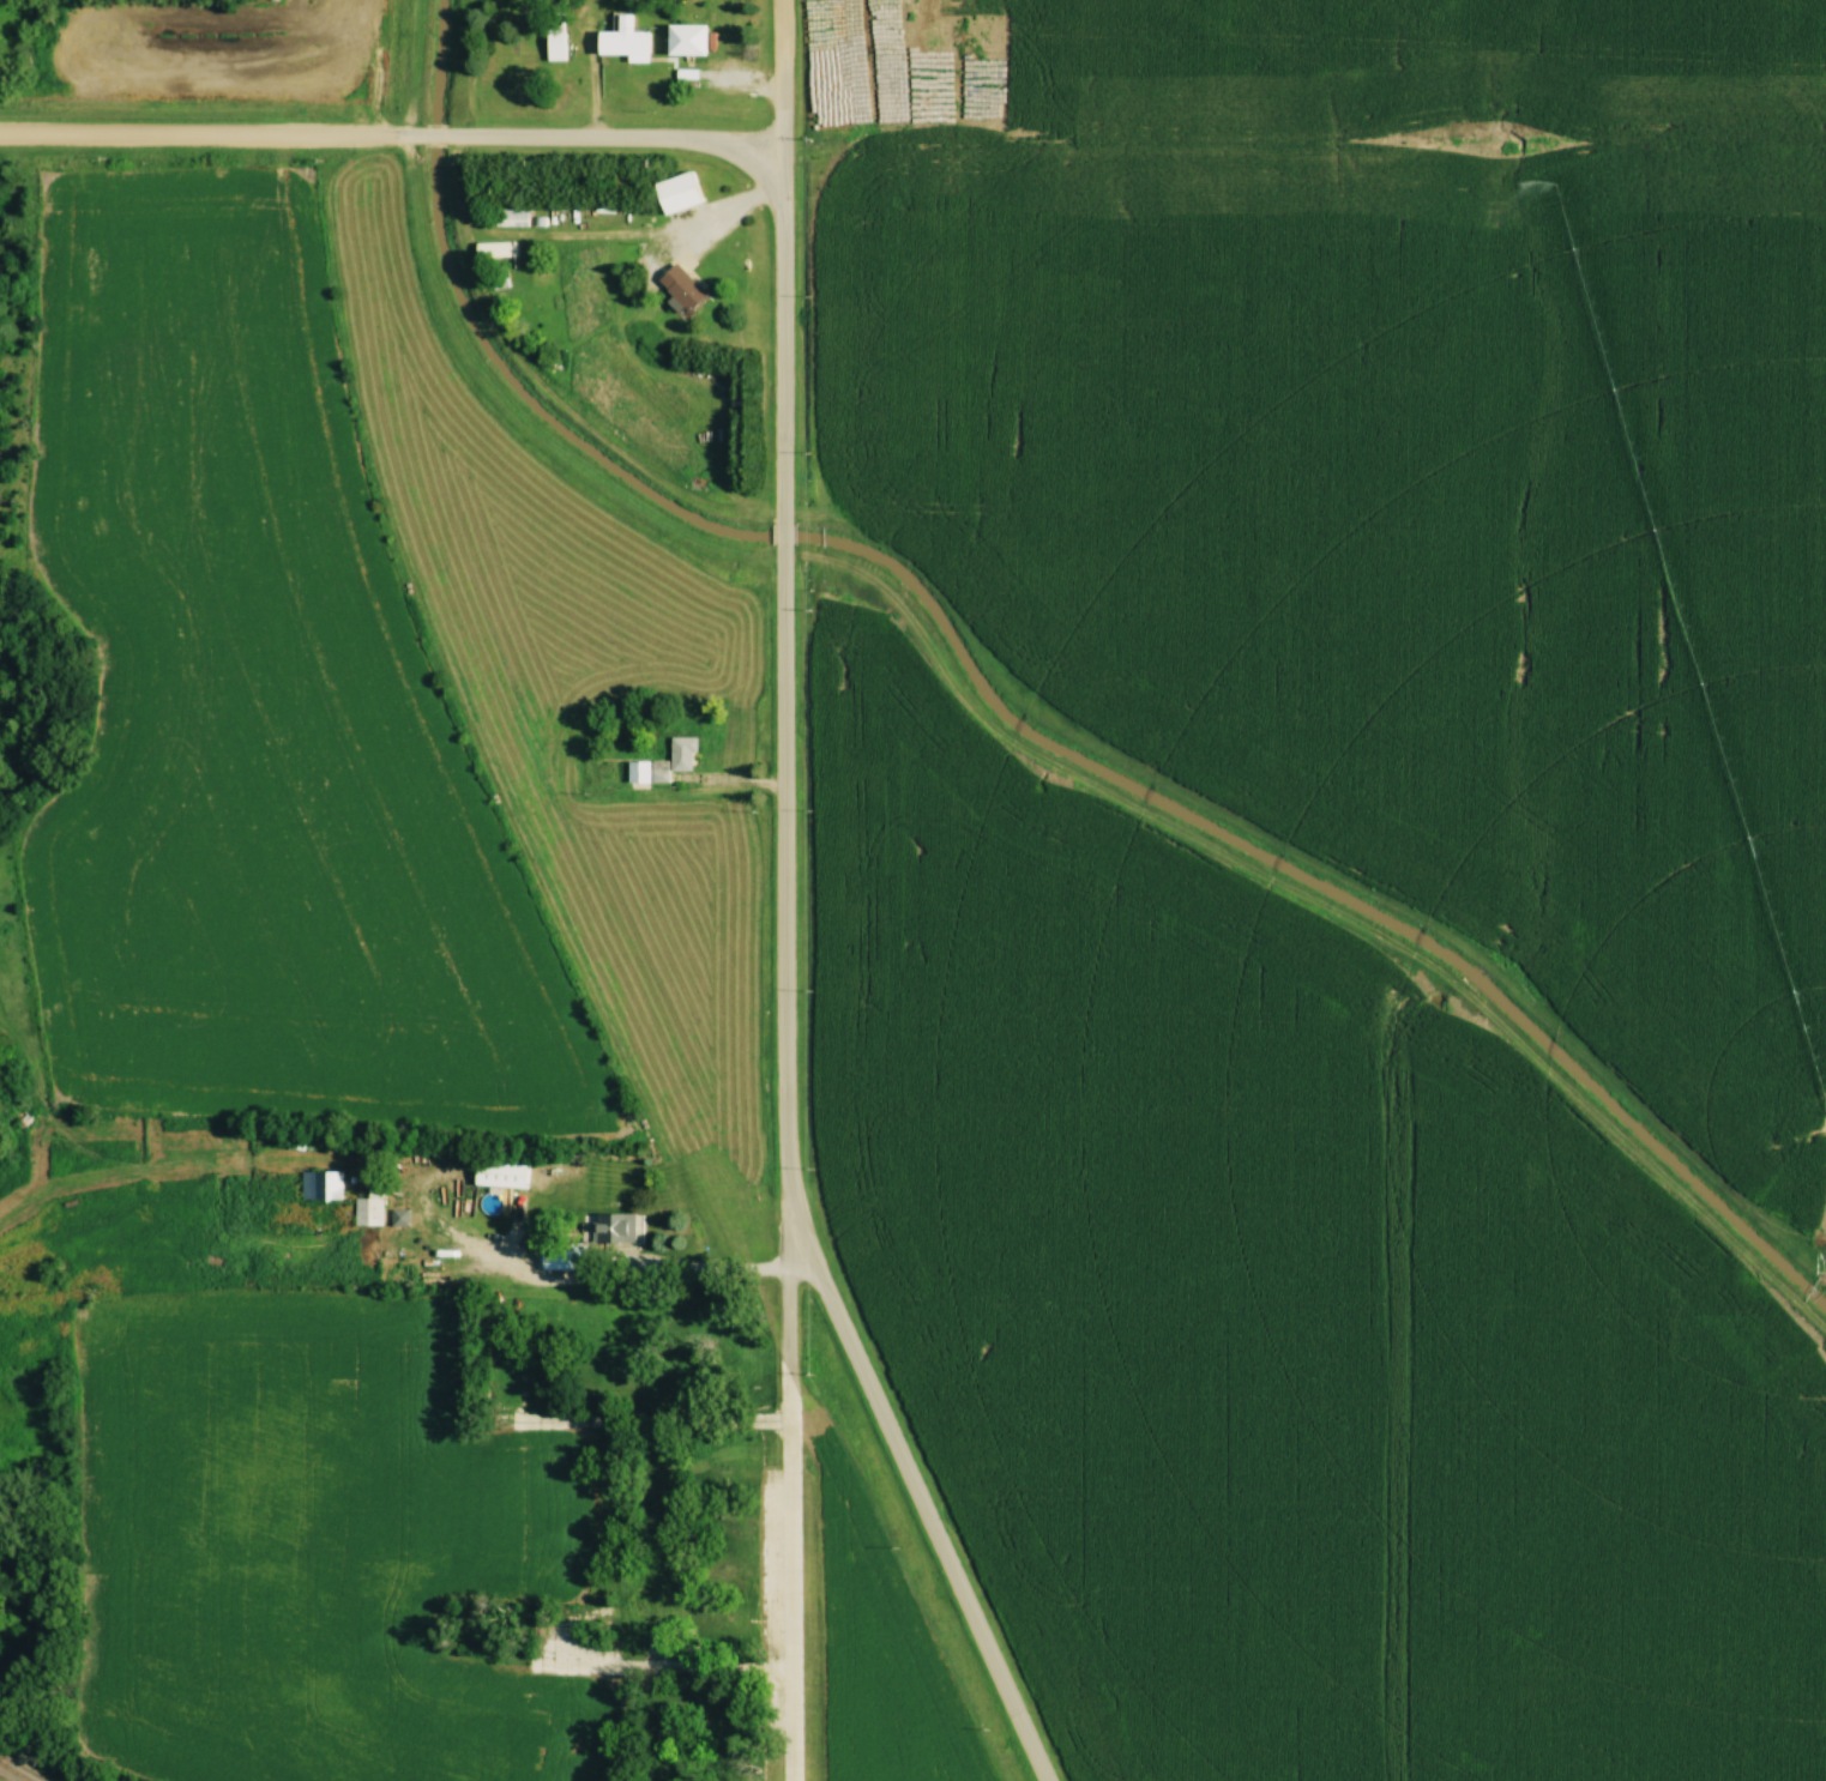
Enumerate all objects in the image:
building: (620, 38)
building: (682, 40)
road: (784, 74)
road: (392, 140)
building: (673, 192)
road: (724, 212)
building: (510, 215)
building: (679, 286)
building: (680, 751)
building: (645, 769)
road: (785, 992)
building: (498, 1172)
building: (235, 1185)
building: (318, 1185)
building: (607, 1227)
road: (602, 1273)
road: (789, 1501)
railway: (13, 1771)

